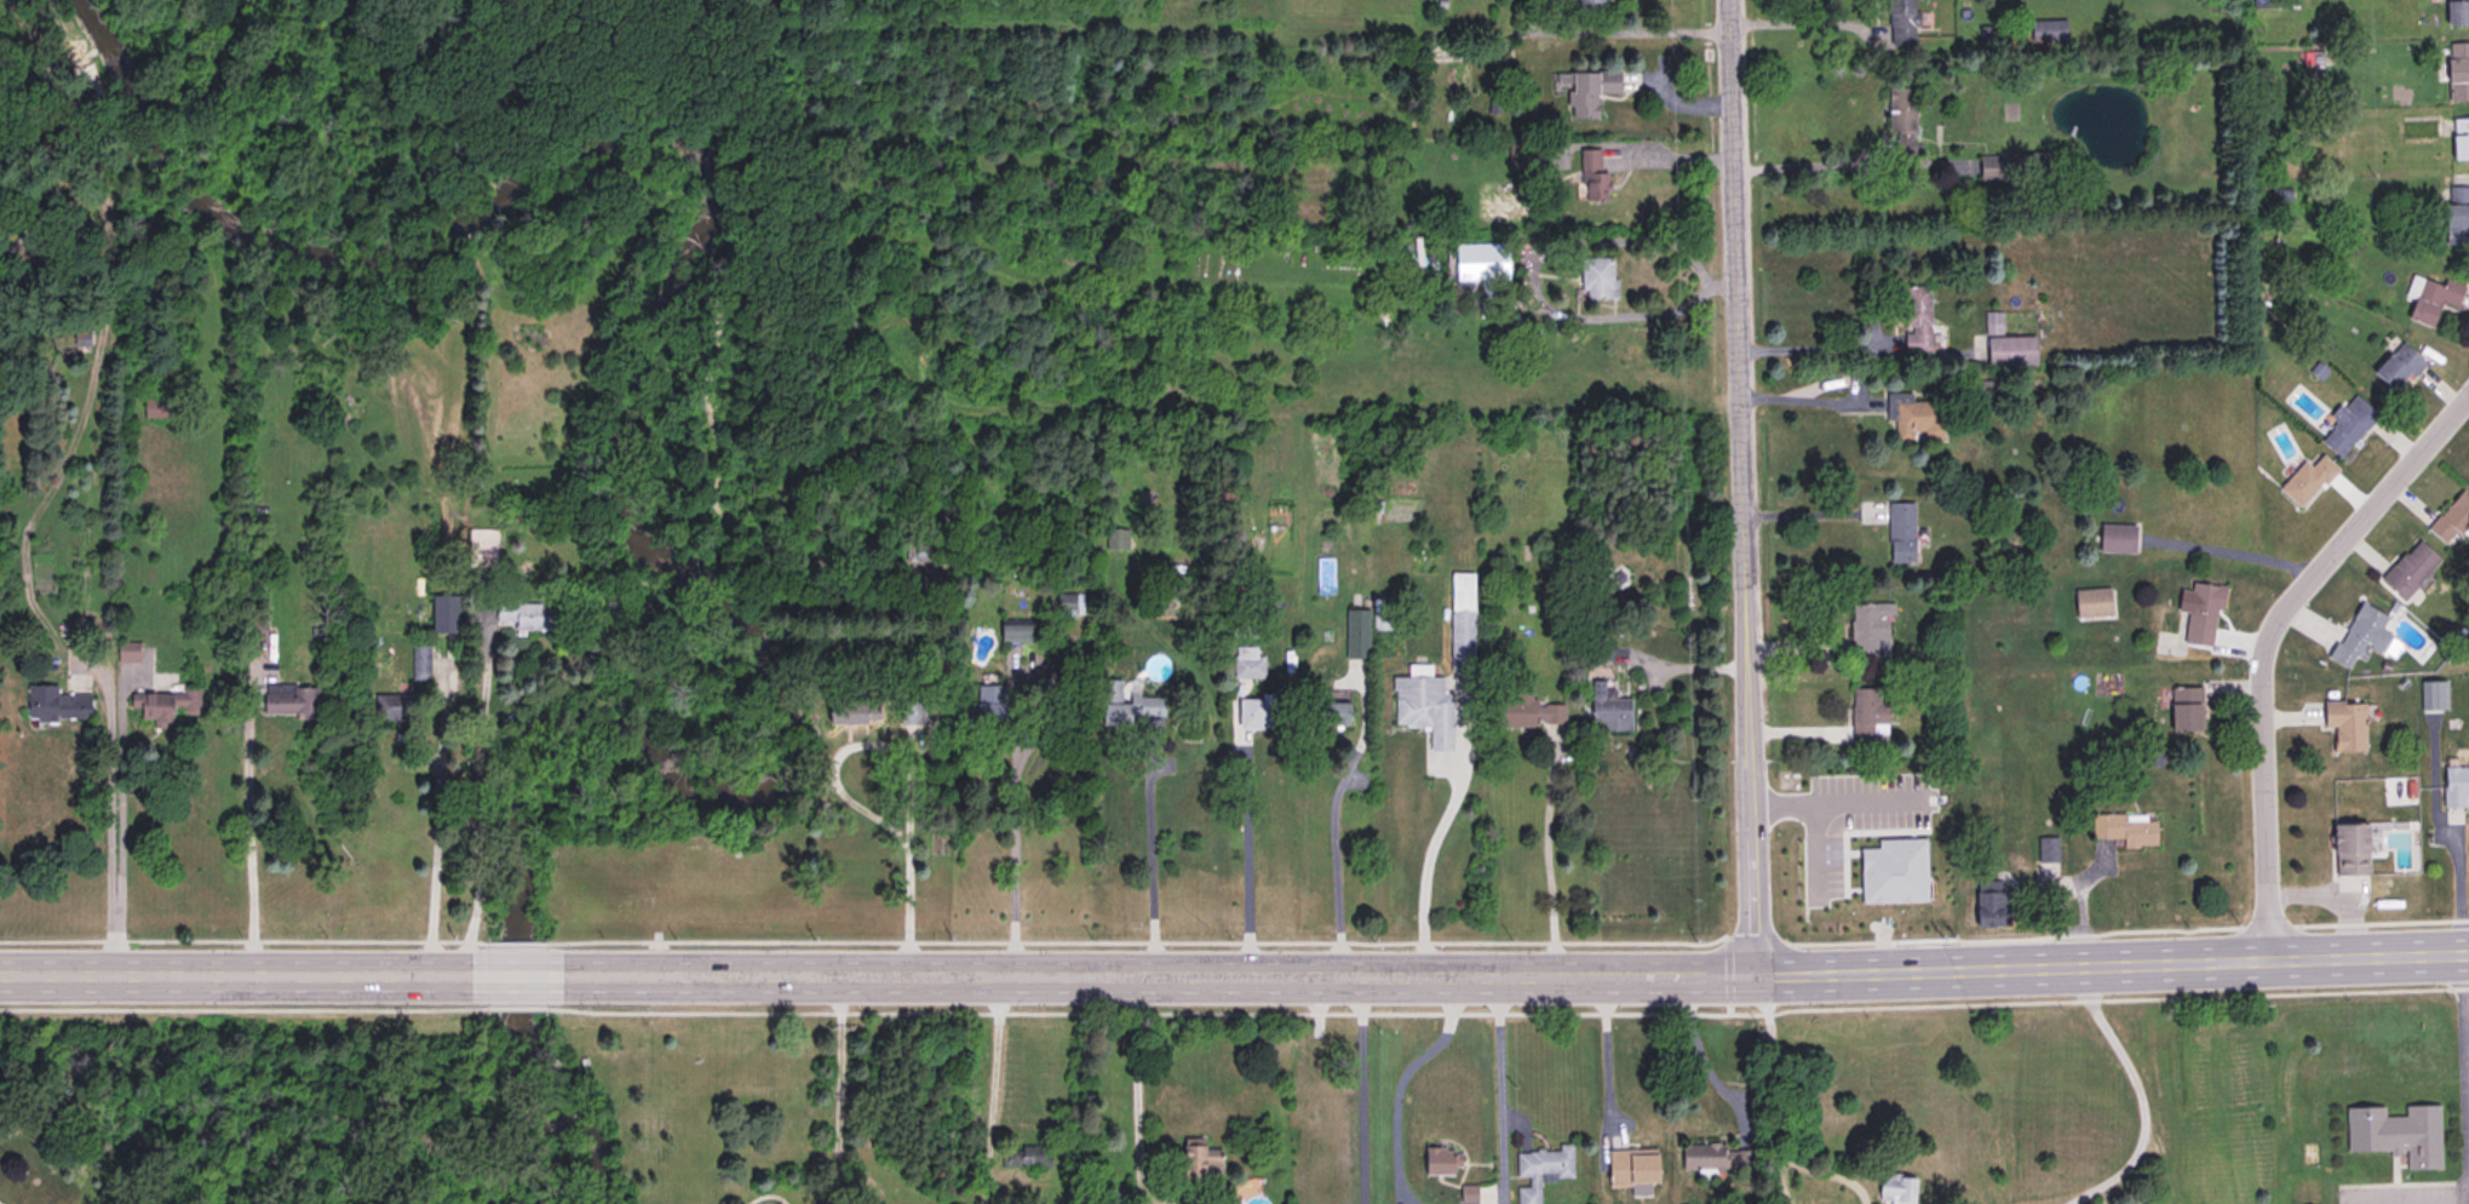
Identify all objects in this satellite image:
building: (1589, 2)
building: (2266, 4)
building: (1899, 8)
building: (2457, 11)
road: (1803, 22)
road: (1673, 33)
building: (2454, 70)
building: (1589, 91)
building: (1900, 109)
building: (2459, 138)
road: (1804, 164)
building: (1592, 174)
building: (2457, 213)
road: (1533, 257)
building: (1480, 262)
building: (1596, 277)
building: (2428, 297)
building: (1916, 317)
building: (1991, 321)
road: (1809, 346)
building: (2009, 349)
building: (2398, 366)
road: (1807, 397)
building: (1913, 417)
building: (2347, 424)
building: (2307, 478)
road: (1744, 483)
road: (1809, 511)
building: (2452, 518)
building: (1900, 532)
building: (1115, 538)
building: (2115, 538)
building: (481, 547)
building: (921, 551)
building: (2410, 568)
building: (2091, 602)
building: (2201, 612)
building: (443, 613)
building: (526, 614)
building: (1380, 617)
building: (1462, 621)
building: (1868, 626)
building: (1014, 632)
building: (2360, 635)
building: (1356, 636)
road: (2270, 641)
building: (419, 660)
building: (1247, 663)
building: (2431, 694)
building: (287, 699)
building: (56, 704)
building: (987, 704)
building: (162, 705)
building: (1129, 705)
building: (1423, 705)
building: (397, 706)
building: (1608, 709)
building: (2184, 709)
building: (1527, 710)
building: (1867, 710)
building: (852, 711)
building: (911, 712)
building: (1258, 712)
building: (1330, 712)
building: (2344, 724)
road: (1014, 762)
building: (2454, 785)
road: (108, 799)
road: (1778, 799)
road: (480, 803)
road: (117, 827)
building: (2124, 829)
road: (245, 847)
road: (1333, 849)
building: (2349, 849)
road: (433, 850)
road: (1548, 854)
road: (1149, 859)
road: (1425, 860)
road: (907, 862)
road: (1246, 862)
building: (1902, 862)
building: (2046, 862)
building: (1828, 867)
road: (2458, 883)
building: (1989, 904)
road: (1234, 975)
road: (1700, 1047)
road: (1606, 1054)
road: (1768, 1061)
road: (2464, 1078)
road: (1397, 1082)
road: (1494, 1088)
road: (1357, 1089)
road: (836, 1090)
road: (984, 1091)
road: (1131, 1094)
road: (2136, 1094)
building: (2394, 1133)
building: (1024, 1157)
building: (1705, 1157)
building: (1439, 1160)
building: (1200, 1163)
building: (1630, 1168)
building: (1540, 1169)
road: (1824, 1171)
road: (1775, 1180)
building: (1895, 1188)
building: (1106, 1196)

